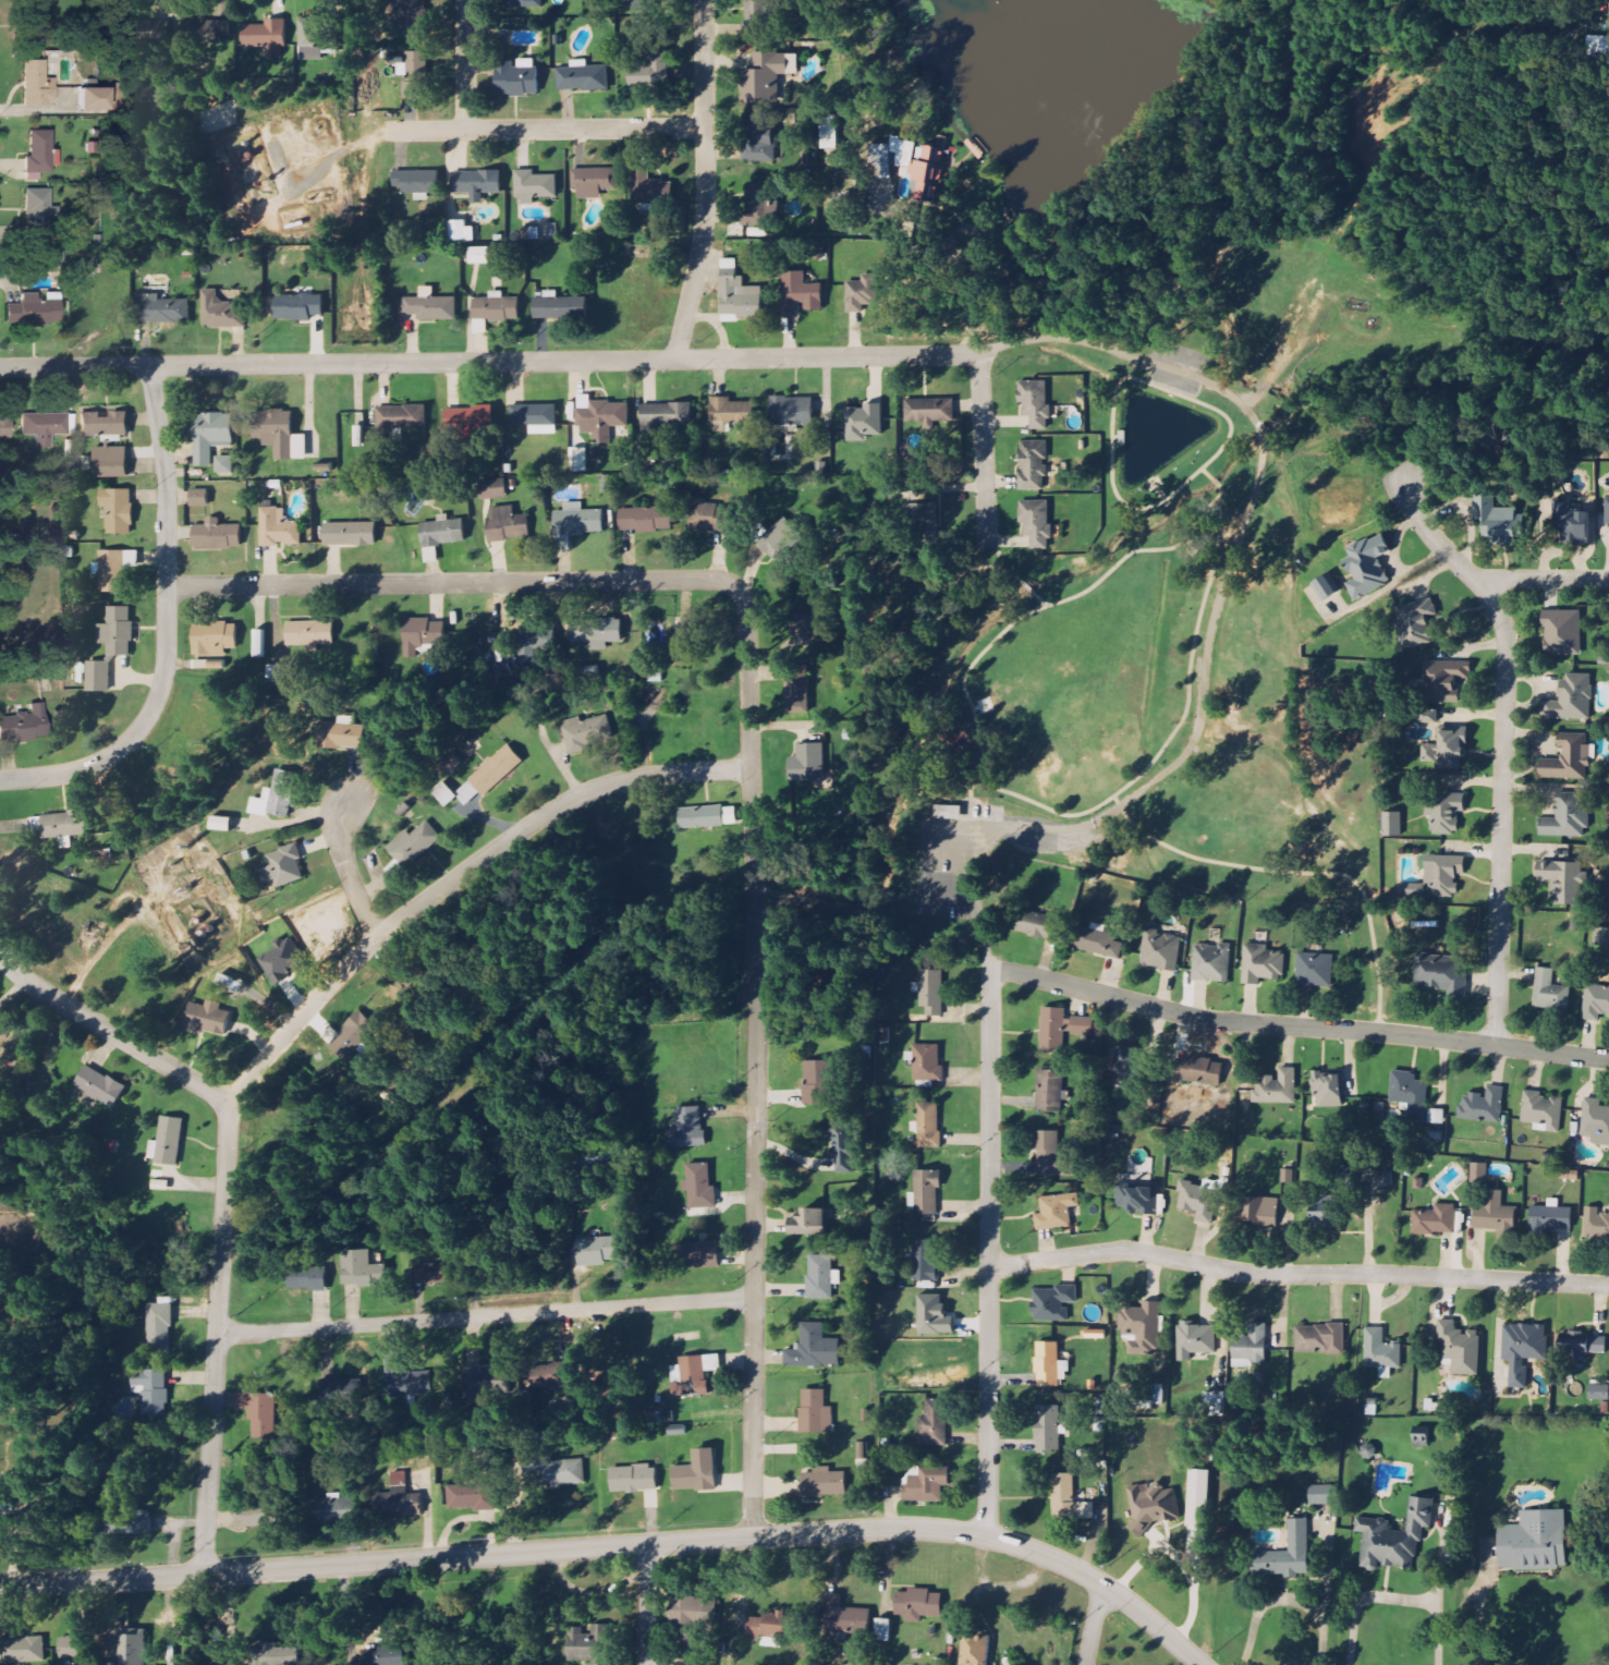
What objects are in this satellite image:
building: (19, 0)
building: (634, 0)
building: (524, 3)
building: (647, 9)
building: (406, 16)
building: (755, 19)
building: (33, 23)
building: (206, 29)
building: (151, 35)
building: (267, 37)
building: (313, 38)
building: (1596, 45)
road: (465, 64)
building: (651, 72)
building: (415, 74)
building: (767, 76)
building: (584, 77)
building: (37, 85)
building: (89, 100)
road: (547, 127)
building: (830, 133)
building: (757, 139)
building: (38, 155)
building: (927, 173)
road: (705, 181)
building: (594, 182)
building: (417, 183)
building: (476, 184)
building: (535, 187)
building: (651, 190)
building: (757, 206)
building: (37, 215)
building: (462, 232)
building: (480, 256)
building: (800, 294)
building: (862, 294)
building: (740, 299)
building: (298, 307)
building: (431, 307)
building: (559, 307)
building: (496, 308)
building: (34, 309)
building: (162, 311)
building: (221, 313)
road: (1133, 356)
road: (1285, 356)
road: (490, 361)
building: (1035, 403)
building: (792, 411)
building: (930, 411)
building: (730, 413)
building: (668, 414)
building: (534, 415)
building: (403, 416)
building: (600, 417)
building: (468, 418)
building: (863, 422)
building: (103, 424)
building: (44, 427)
building: (4, 428)
building: (280, 434)
building: (210, 435)
road: (986, 447)
building: (578, 460)
building: (110, 461)
building: (224, 464)
building: (1033, 464)
building: (493, 489)
building: (344, 490)
building: (198, 497)
building: (118, 510)
building: (1607, 511)
building: (706, 515)
building: (646, 519)
building: (924, 519)
building: (1499, 521)
building: (1571, 521)
building: (1037, 522)
building: (576, 523)
building: (507, 524)
building: (279, 527)
building: (443, 532)
building: (350, 533)
building: (216, 534)
building: (782, 540)
building: (1366, 567)
building: (112, 571)
road: (1541, 578)
road: (453, 581)
building: (1327, 587)
building: (1416, 623)
park: (1144, 624)
road: (167, 625)
building: (117, 631)
building: (423, 631)
building: (596, 632)
building: (808, 632)
building: (1563, 633)
building: (309, 634)
building: (214, 637)
building: (259, 643)
building: (532, 645)
road: (1209, 649)
building: (278, 672)
building: (98, 676)
building: (1446, 680)
building: (797, 693)
building: (1572, 698)
building: (1428, 717)
building: (23, 725)
building: (585, 732)
building: (341, 733)
building: (1452, 746)
road: (1507, 746)
building: (1429, 753)
building: (1569, 758)
building: (808, 762)
building: (497, 770)
building: (447, 793)
building: (276, 795)
building: (949, 812)
building: (1447, 814)
building: (700, 817)
building: (1568, 817)
building: (221, 823)
building: (1392, 824)
building: (64, 825)
road: (955, 841)
building: (415, 842)
road: (983, 846)
building: (283, 865)
road: (348, 872)
building: (1445, 874)
building: (1563, 882)
building: (1412, 890)
road: (954, 897)
building: (1038, 925)
building: (1601, 937)
building: (1098, 940)
building: (1161, 948)
building: (284, 961)
building: (1211, 962)
building: (1261, 964)
building: (1315, 971)
building: (1442, 973)
building: (930, 989)
building: (1550, 992)
building: (1596, 1002)
building: (207, 1017)
road: (1297, 1028)
building: (1052, 1029)
road: (113, 1033)
road: (284, 1034)
building: (350, 1034)
building: (1125, 1060)
road: (756, 1061)
building: (927, 1061)
building: (1208, 1068)
building: (817, 1081)
building: (100, 1085)
building: (1277, 1086)
building: (1328, 1089)
building: (1050, 1090)
building: (1410, 1093)
building: (1483, 1105)
building: (1543, 1110)
building: (1437, 1116)
building: (1596, 1121)
building: (928, 1125)
building: (688, 1128)
building: (167, 1141)
building: (843, 1149)
building: (1049, 1154)
building: (598, 1156)
building: (1479, 1171)
building: (1348, 1177)
building: (1389, 1178)
building: (699, 1186)
building: (927, 1192)
building: (1138, 1193)
building: (1198, 1201)
building: (1263, 1210)
building: (1057, 1211)
building: (1326, 1211)
building: (1496, 1213)
building: (1551, 1216)
building: (1436, 1219)
building: (808, 1222)
building: (1596, 1224)
building: (597, 1250)
road: (990, 1253)
building: (696, 1254)
building: (925, 1261)
building: (359, 1269)
building: (430, 1273)
road: (1297, 1275)
building: (819, 1276)
building: (306, 1277)
building: (1055, 1303)
road: (486, 1315)
building: (1142, 1326)
building: (158, 1327)
building: (1197, 1339)
building: (1320, 1339)
building: (1253, 1345)
building: (1582, 1345)
building: (814, 1347)
building: (1460, 1347)
building: (1381, 1349)
building: (1522, 1350)
building: (1047, 1363)
building: (693, 1375)
building: (551, 1376)
building: (406, 1377)
building: (485, 1382)
building: (342, 1383)
building: (151, 1390)
building: (1598, 1391)
building: (1215, 1403)
building: (260, 1412)
building: (815, 1412)
building: (934, 1423)
building: (1048, 1429)
building: (863, 1449)
building: (557, 1471)
building: (696, 1472)
building: (634, 1479)
building: (824, 1483)
building: (927, 1485)
building: (1321, 1494)
building: (467, 1496)
building: (397, 1498)
building: (1199, 1498)
building: (1069, 1499)
building: (1154, 1506)
building: (338, 1509)
building: (256, 1517)
building: (133, 1522)
building: (1394, 1536)
building: (1534, 1541)
road: (619, 1545)
building: (1287, 1553)
road: (1392, 1597)
road: (1287, 1599)
road: (648, 1604)
building: (918, 1605)
building: (688, 1615)
building: (844, 1617)
road: (1093, 1625)
building: (768, 1629)
building: (883, 1630)
building: (589, 1645)
building: (133, 1646)
building: (71, 1649)
building: (23, 1650)
building: (976, 1650)
building: (276, 1655)
building: (389, 1656)

